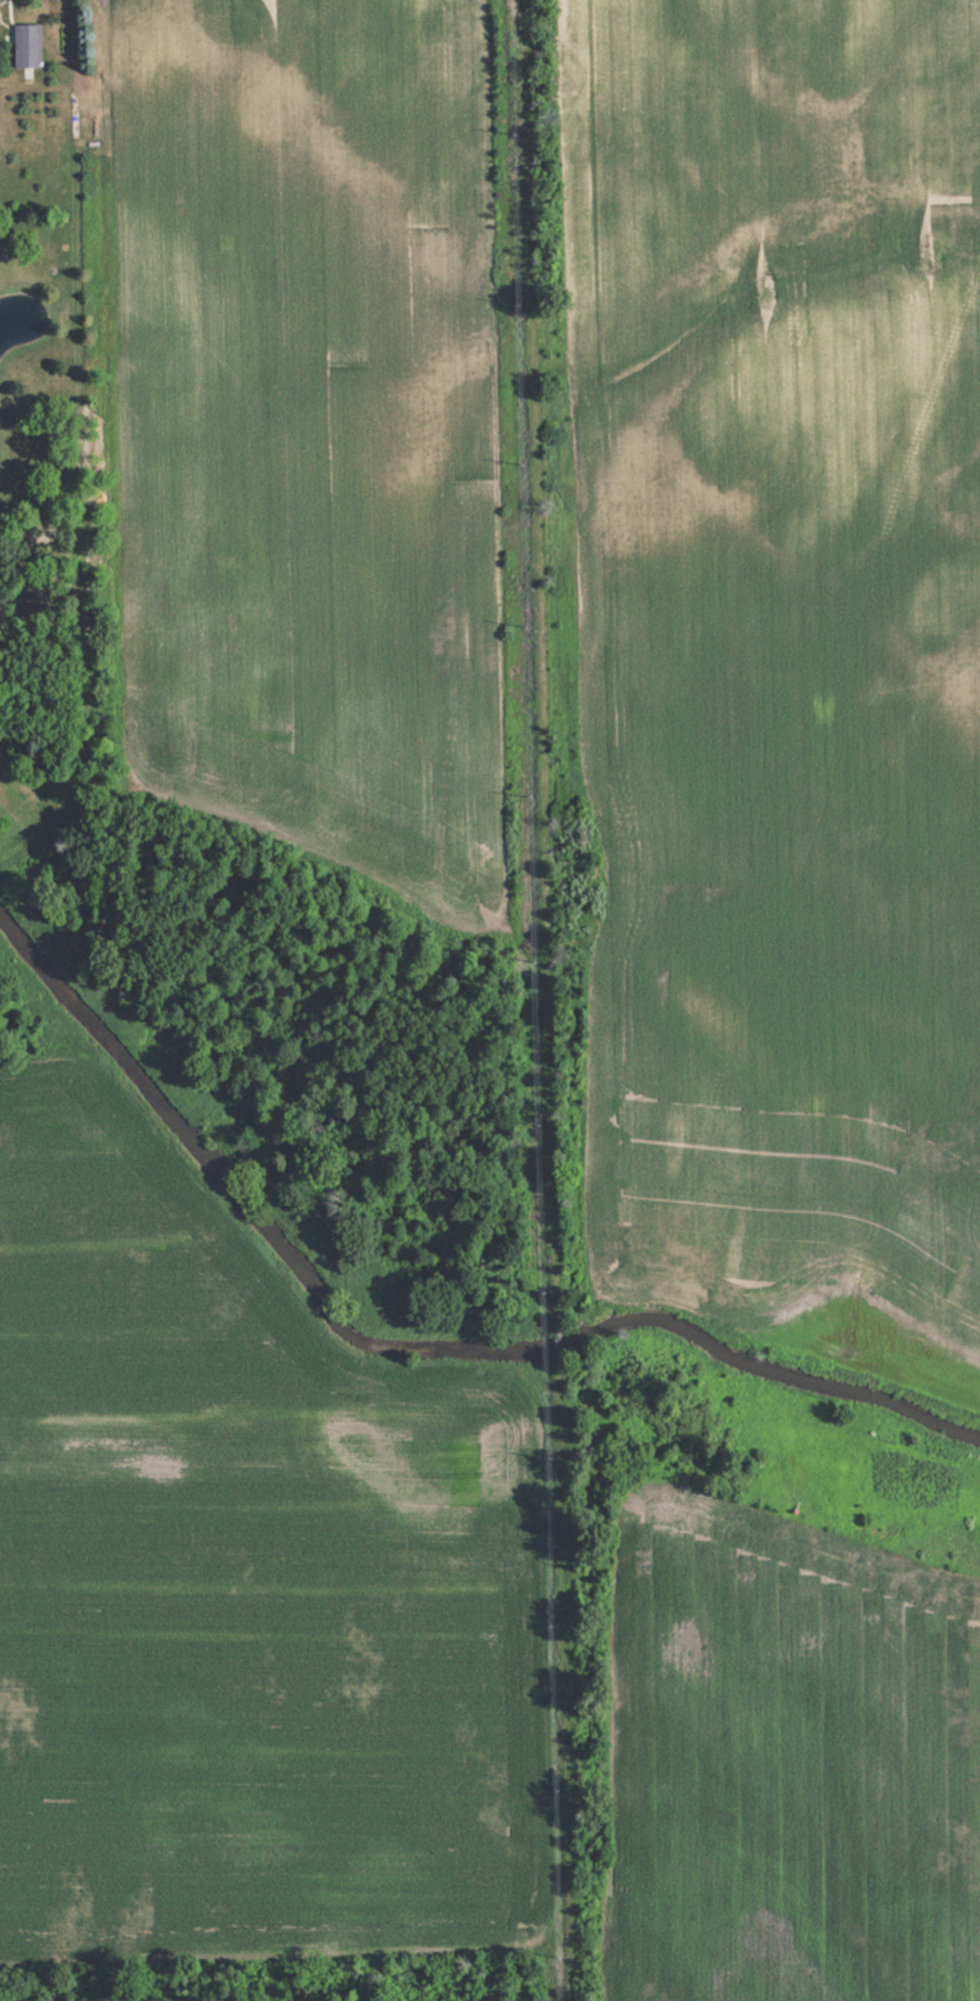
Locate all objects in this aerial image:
building: (25, 45)
road: (543, 377)
river: (403, 1350)

